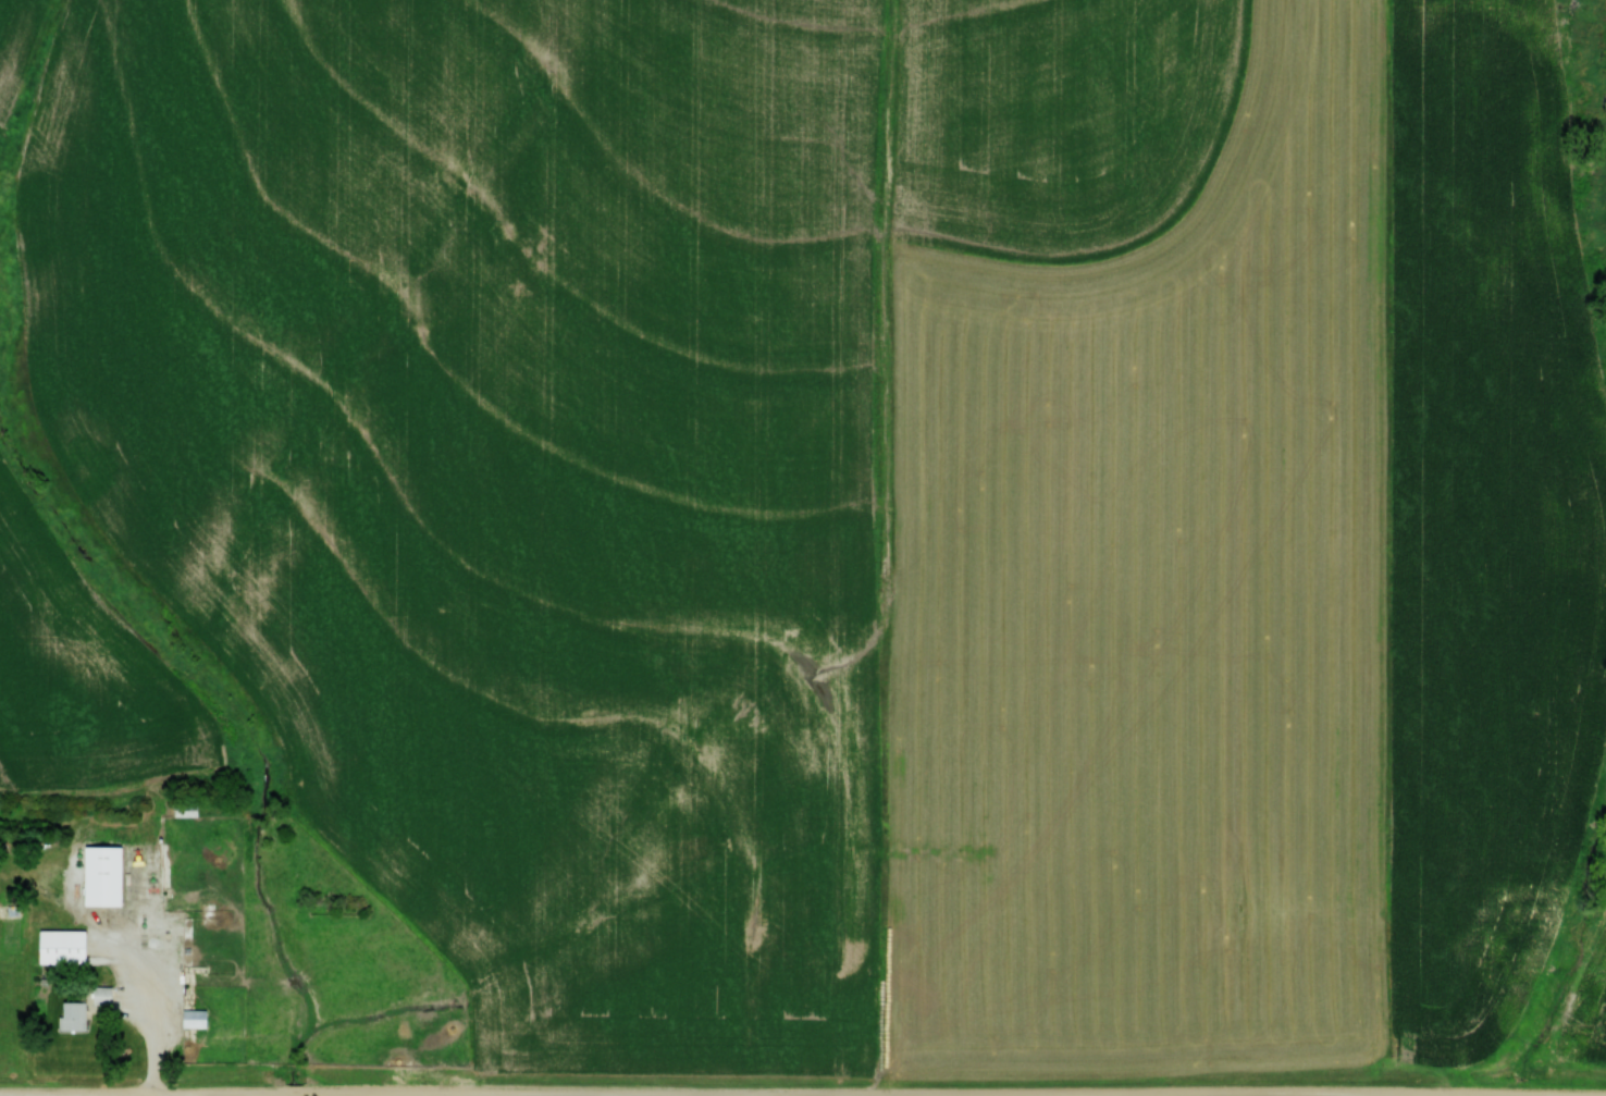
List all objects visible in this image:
building: (182, 809)
building: (98, 874)
building: (58, 946)
building: (100, 994)
road: (155, 1011)
building: (70, 1014)
building: (190, 1017)

